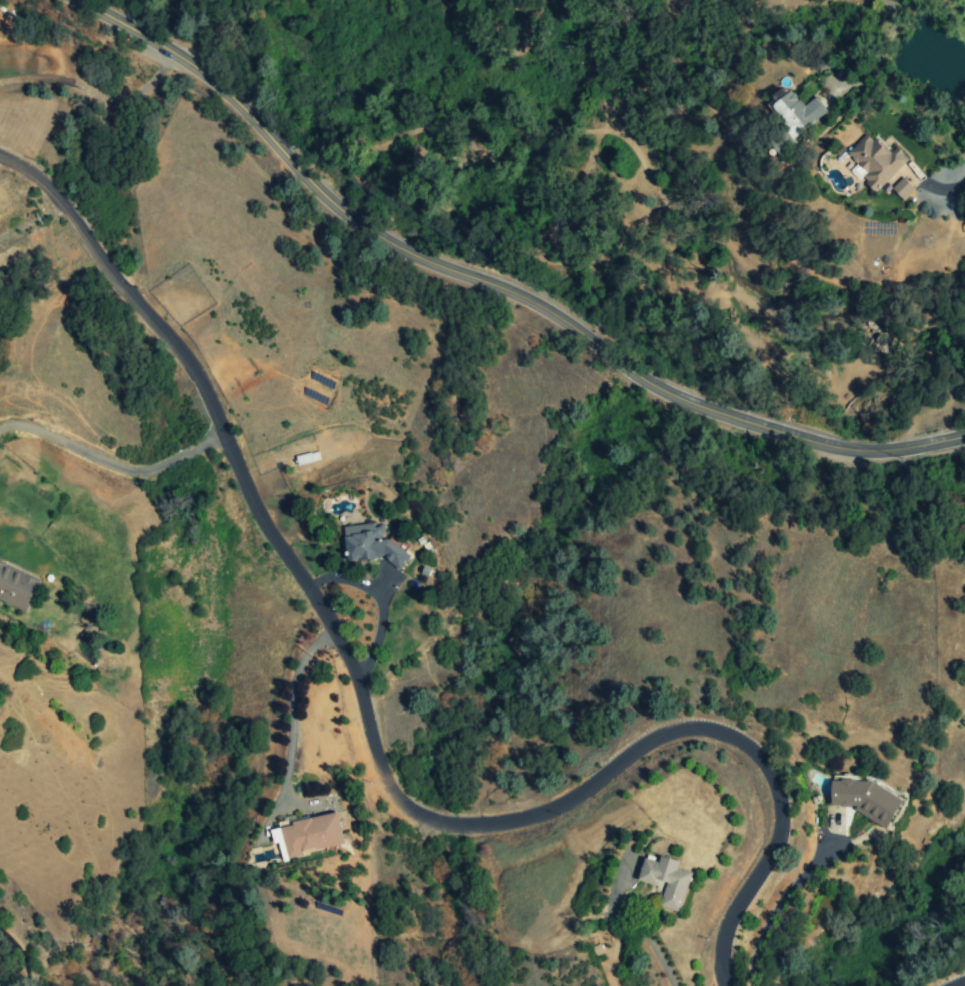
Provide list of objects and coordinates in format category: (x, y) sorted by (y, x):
road: (119, 8)
road: (879, 46)
building: (794, 119)
road: (960, 172)
building: (902, 188)
road: (30, 219)
road: (494, 287)
road: (111, 465)
building: (370, 545)
building: (16, 586)
road: (377, 601)
road: (296, 714)
road: (371, 749)
building: (866, 799)
building: (308, 835)
building: (666, 880)
road: (783, 908)
road: (633, 924)
road: (963, 985)

